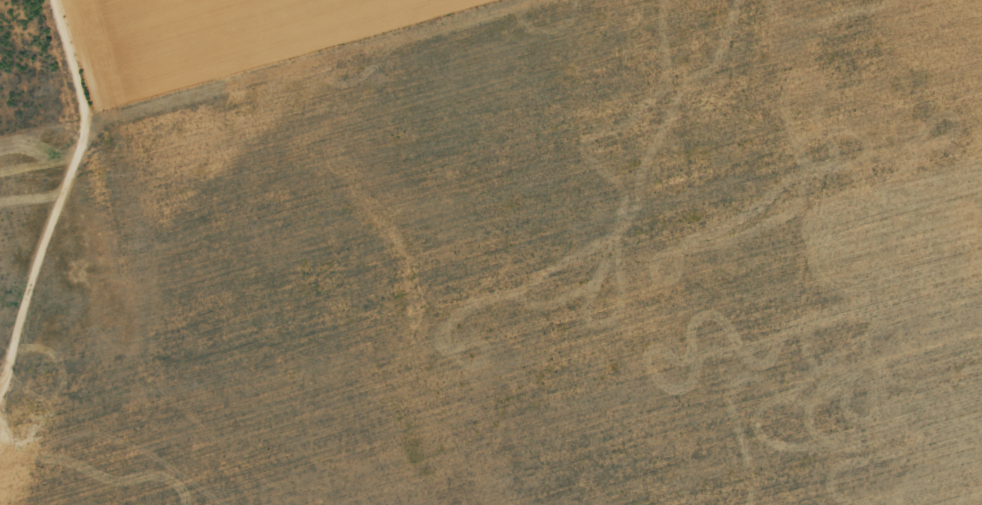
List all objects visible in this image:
road: (85, 224)

